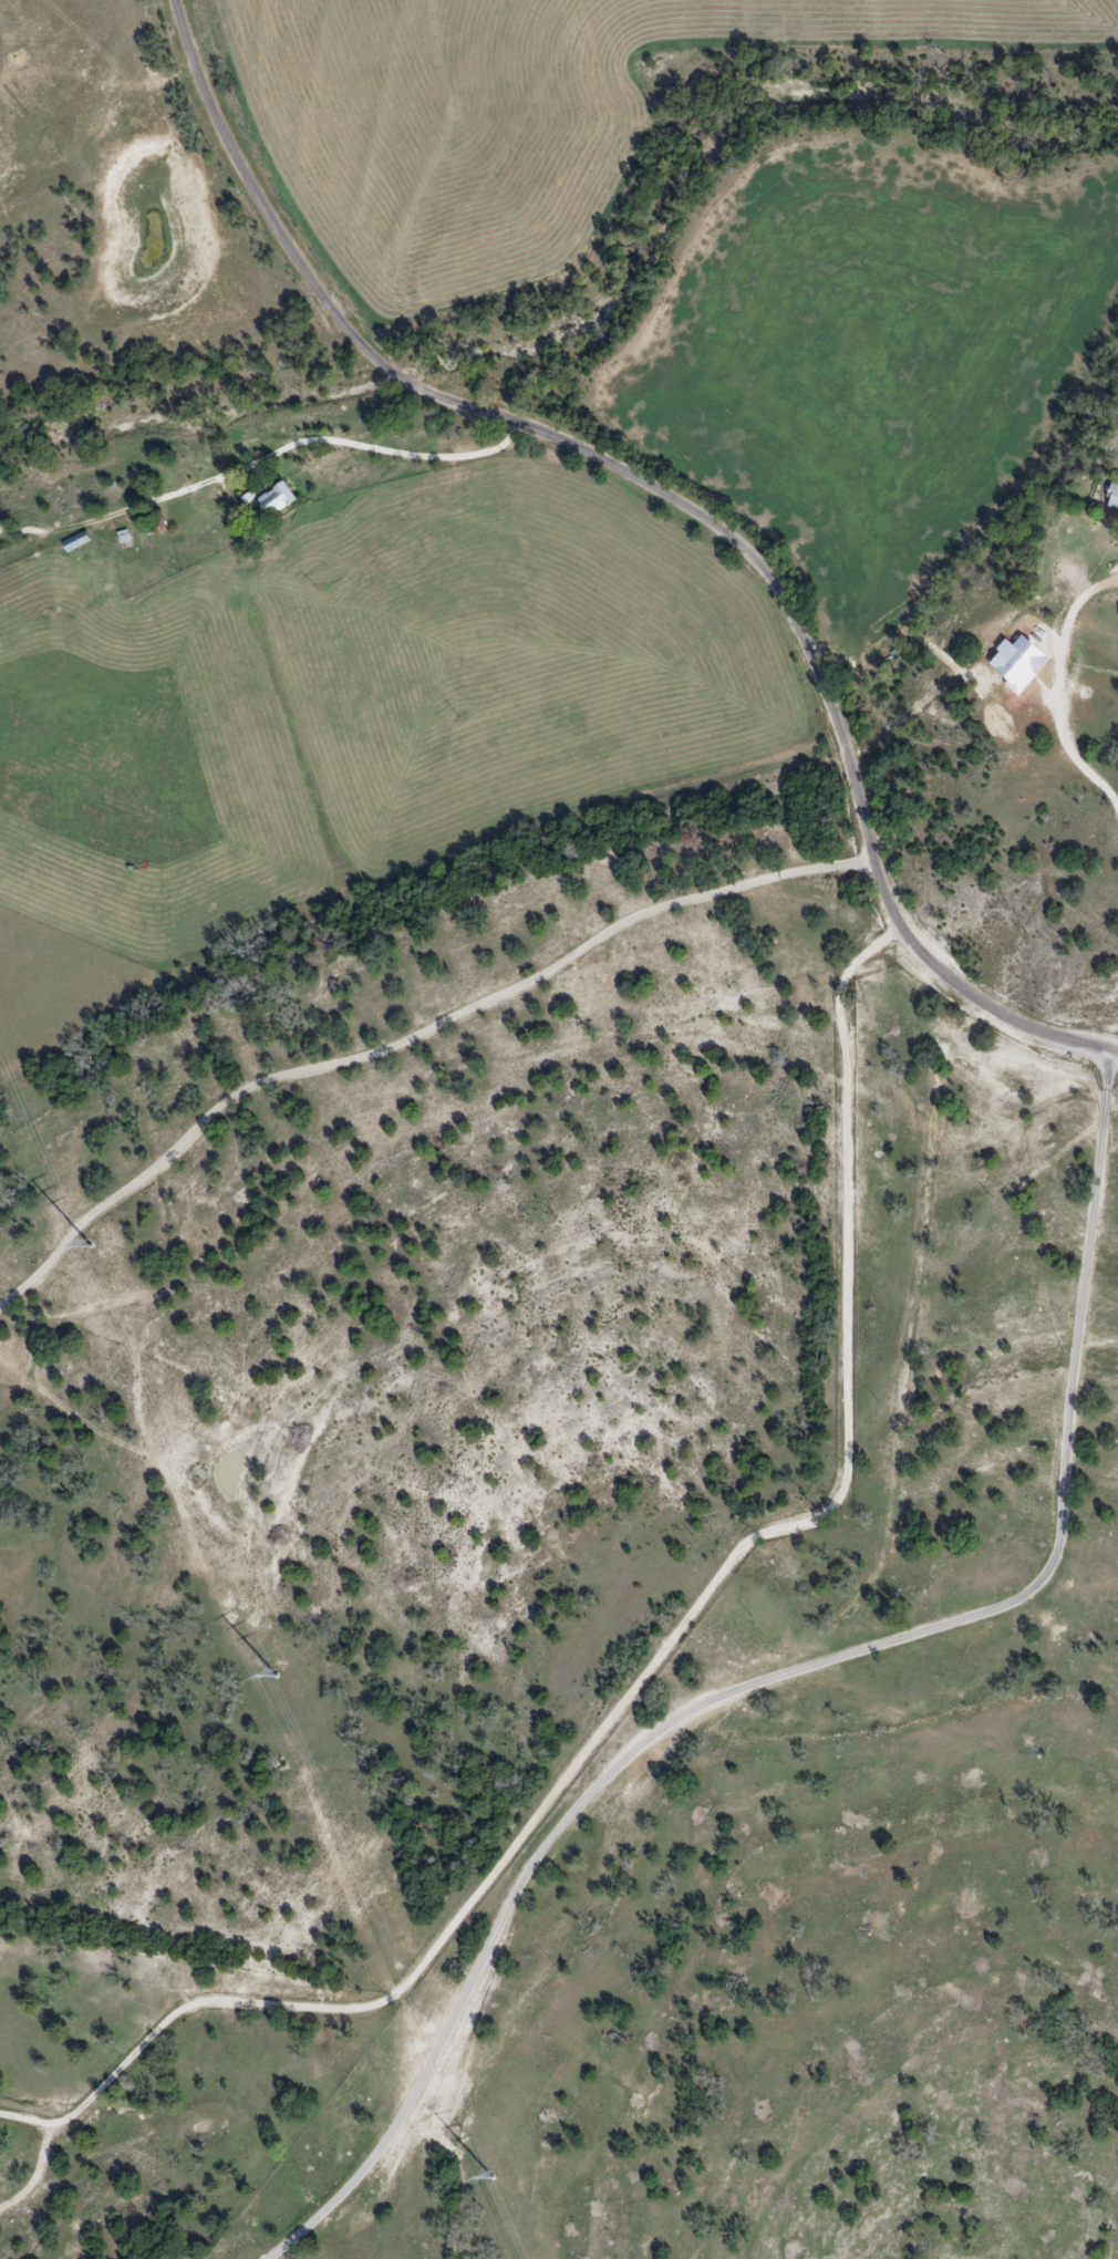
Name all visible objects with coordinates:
road: (375, 442)
building: (1112, 497)
building: (275, 500)
road: (676, 504)
building: (154, 525)
building: (0, 532)
building: (74, 540)
road: (1059, 683)
road: (408, 1035)
power tower: (90, 1246)
road: (651, 1664)
road: (788, 1672)
power tower: (278, 1675)
power tower: (491, 2178)

